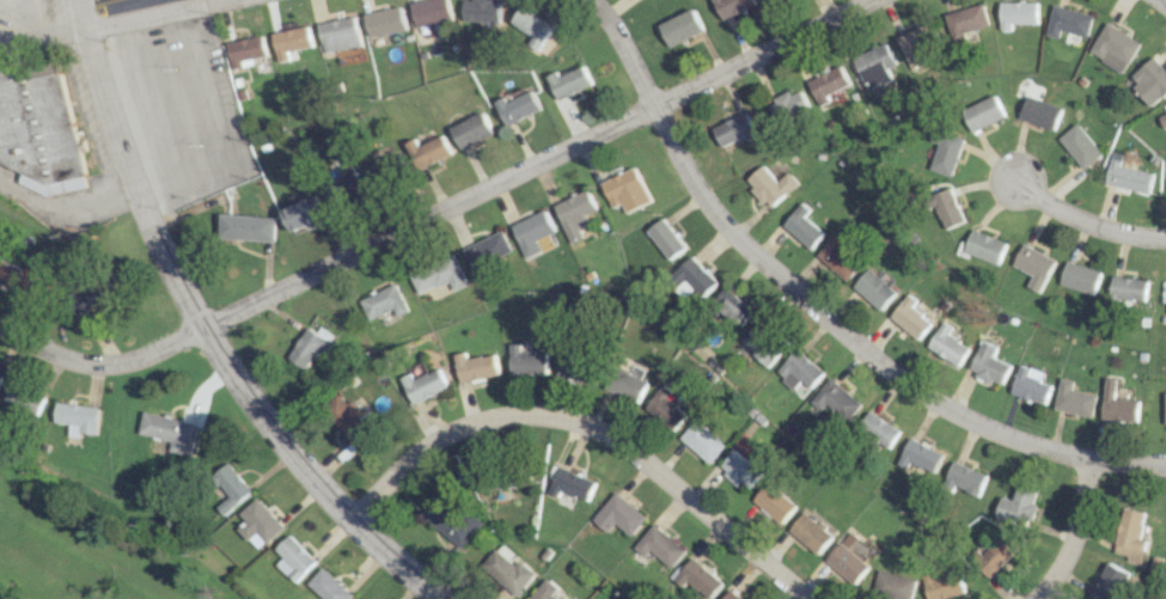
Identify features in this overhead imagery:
road: (1159, 4)
building: (733, 6)
building: (481, 11)
building: (432, 12)
building: (1015, 13)
road: (152, 14)
building: (386, 22)
building: (965, 22)
building: (1067, 22)
building: (532, 26)
building: (682, 27)
building: (341, 35)
road: (43, 36)
building: (293, 42)
building: (915, 45)
building: (1112, 48)
building: (248, 51)
building: (874, 67)
building: (1149, 80)
building: (570, 82)
building: (826, 84)
building: (786, 105)
building: (1165, 106)
building: (518, 108)
building: (1038, 112)
building: (981, 114)
building: (1162, 120)
building: (38, 127)
building: (733, 129)
building: (471, 130)
building: (1078, 146)
building: (942, 151)
building: (428, 152)
building: (383, 165)
building: (1125, 176)
building: (769, 185)
building: (344, 187)
building: (624, 190)
building: (945, 208)
road: (65, 209)
road: (438, 209)
building: (304, 213)
building: (574, 214)
road: (1081, 221)
building: (248, 227)
building: (801, 227)
building: (531, 232)
building: (664, 238)
building: (981, 247)
building: (488, 251)
building: (837, 257)
building: (1032, 265)
building: (10, 274)
building: (439, 275)
building: (1079, 277)
building: (690, 279)
building: (873, 289)
building: (1128, 289)
building: (1164, 291)
building: (90, 293)
building: (383, 302)
building: (729, 307)
road: (818, 310)
building: (909, 318)
road: (202, 334)
building: (761, 343)
building: (947, 344)
building: (310, 346)
building: (526, 360)
building: (988, 363)
building: (475, 367)
building: (576, 367)
building: (798, 372)
building: (0, 375)
building: (625, 384)
building: (423, 385)
building: (1031, 385)
building: (22, 399)
building: (836, 399)
building: (1075, 399)
building: (1119, 404)
building: (665, 408)
building: (77, 417)
building: (348, 420)
road: (590, 424)
building: (169, 430)
building: (878, 430)
building: (702, 441)
building: (920, 456)
building: (739, 469)
building: (965, 478)
building: (572, 484)
building: (230, 487)
building: (774, 503)
building: (1019, 507)
building: (618, 515)
building: (448, 520)
building: (257, 524)
building: (808, 532)
road: (1072, 532)
building: (1131, 534)
building: (659, 546)
park: (80, 550)
building: (996, 555)
building: (849, 557)
building: (293, 558)
building: (507, 569)
building: (697, 579)
building: (1112, 582)
building: (892, 585)
building: (326, 586)
building: (942, 586)
building: (545, 591)
building: (728, 595)

